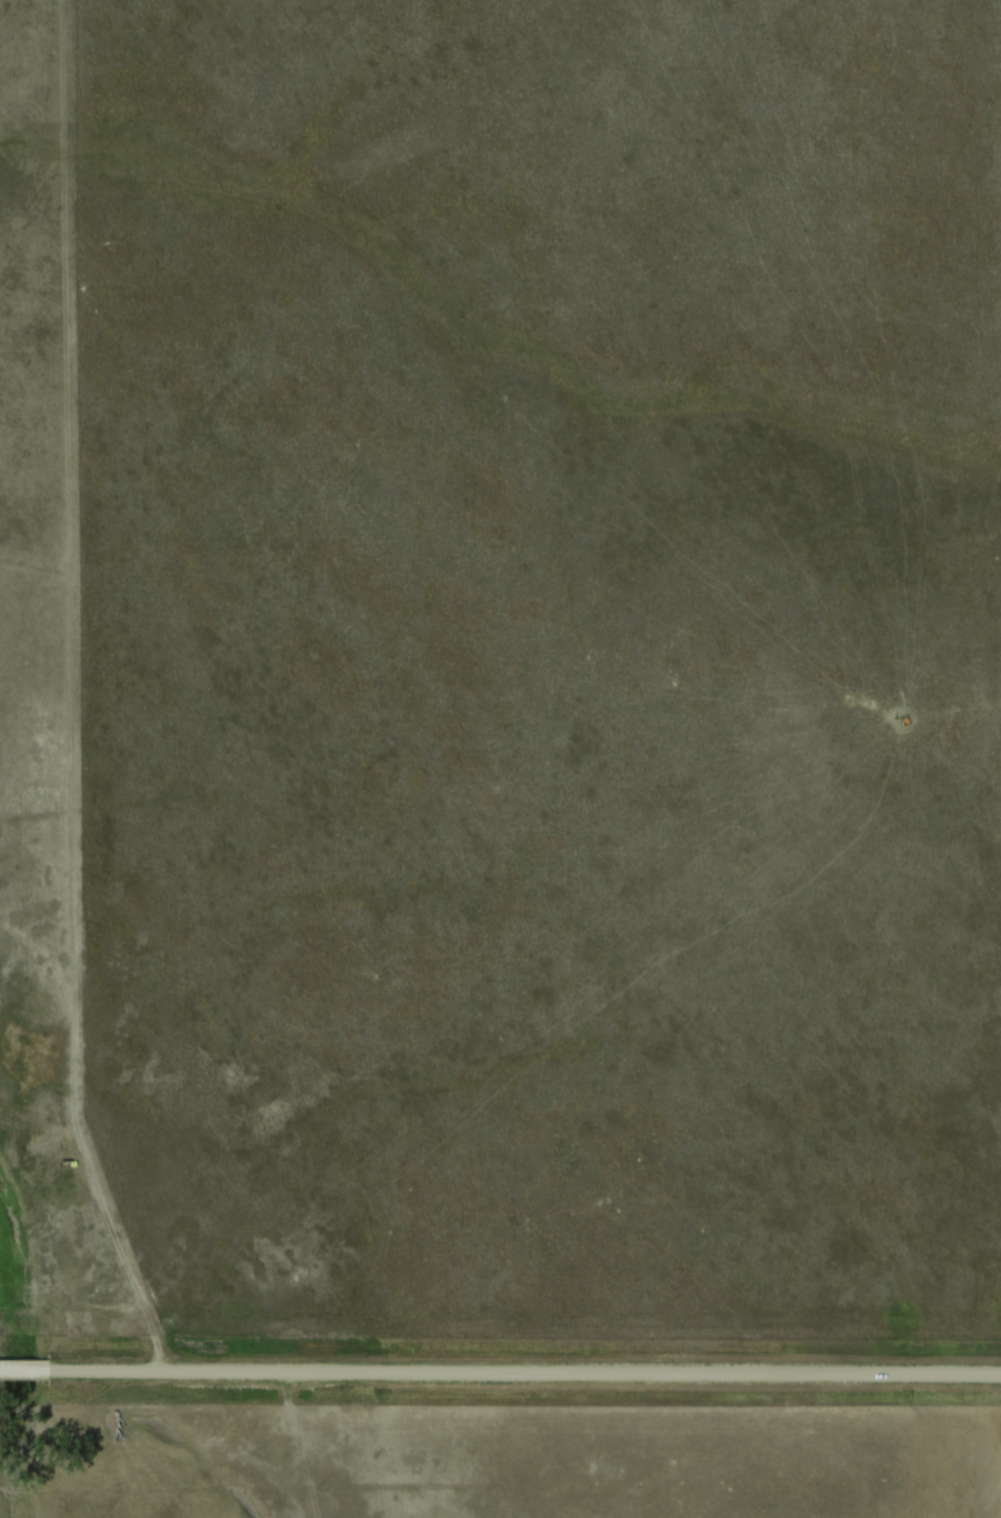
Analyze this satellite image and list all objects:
road: (500, 1378)

